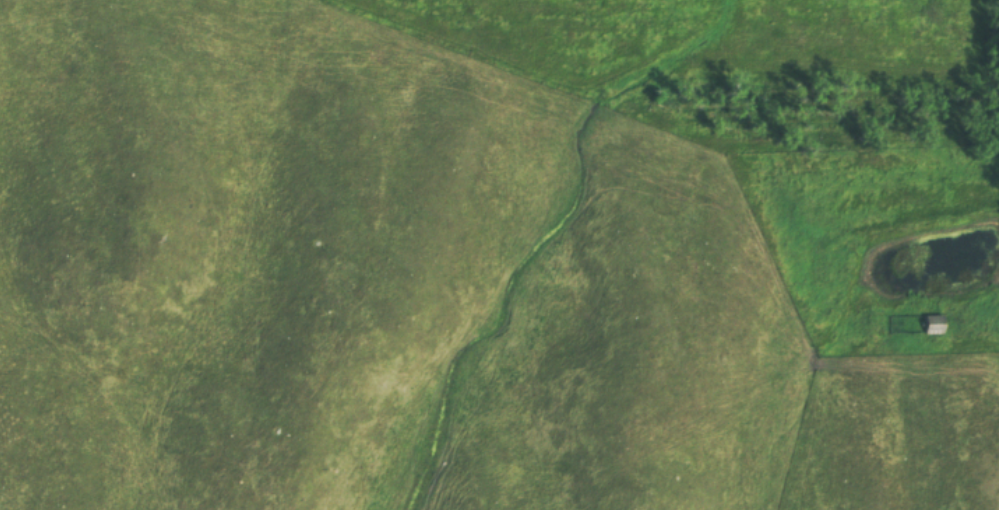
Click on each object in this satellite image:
building: (933, 324)

